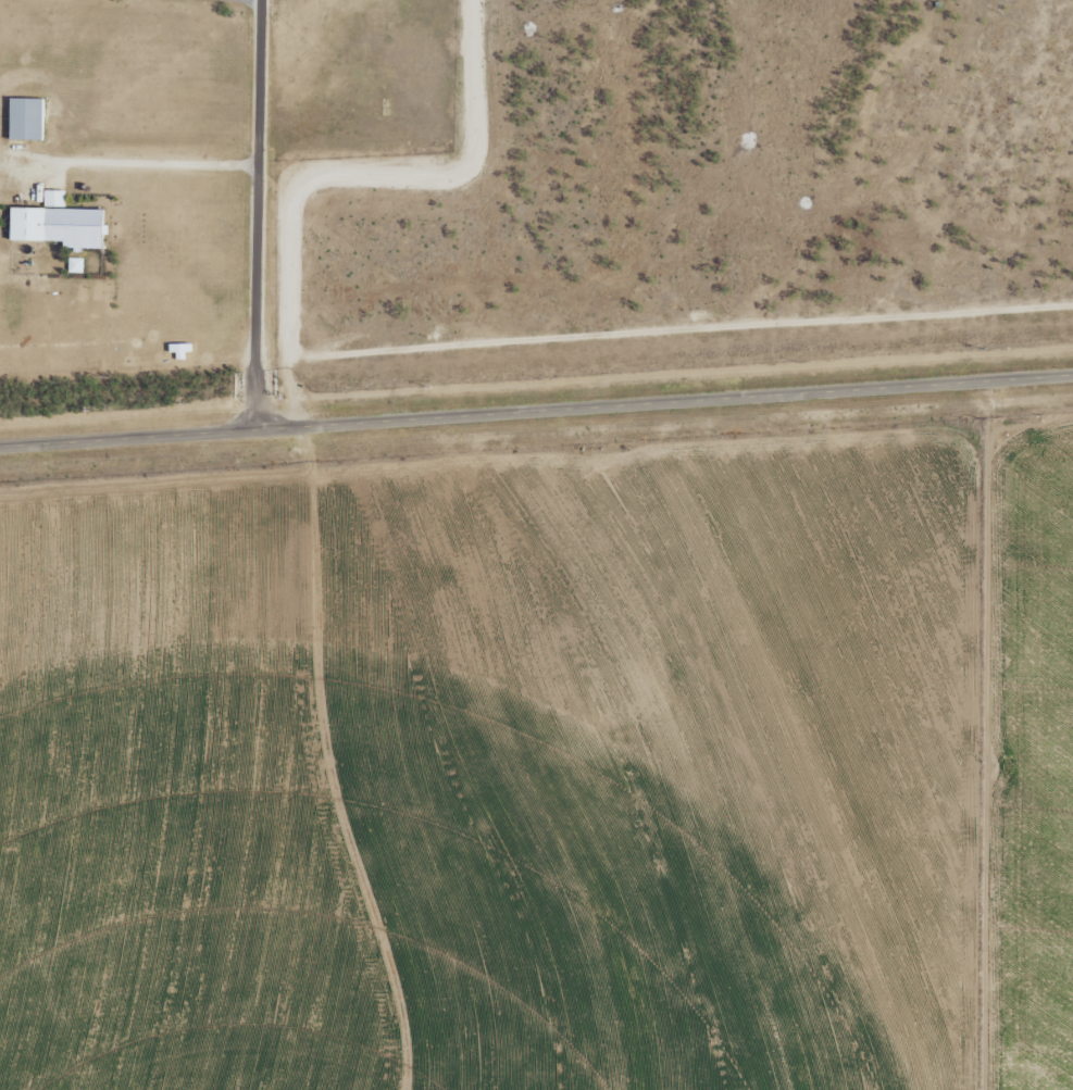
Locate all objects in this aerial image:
building: (25, 120)
airport: (184, 164)
road: (253, 215)
airport hangar: (60, 226)
building: (60, 226)
railway: (536, 384)
road: (536, 412)
road: (326, 762)

